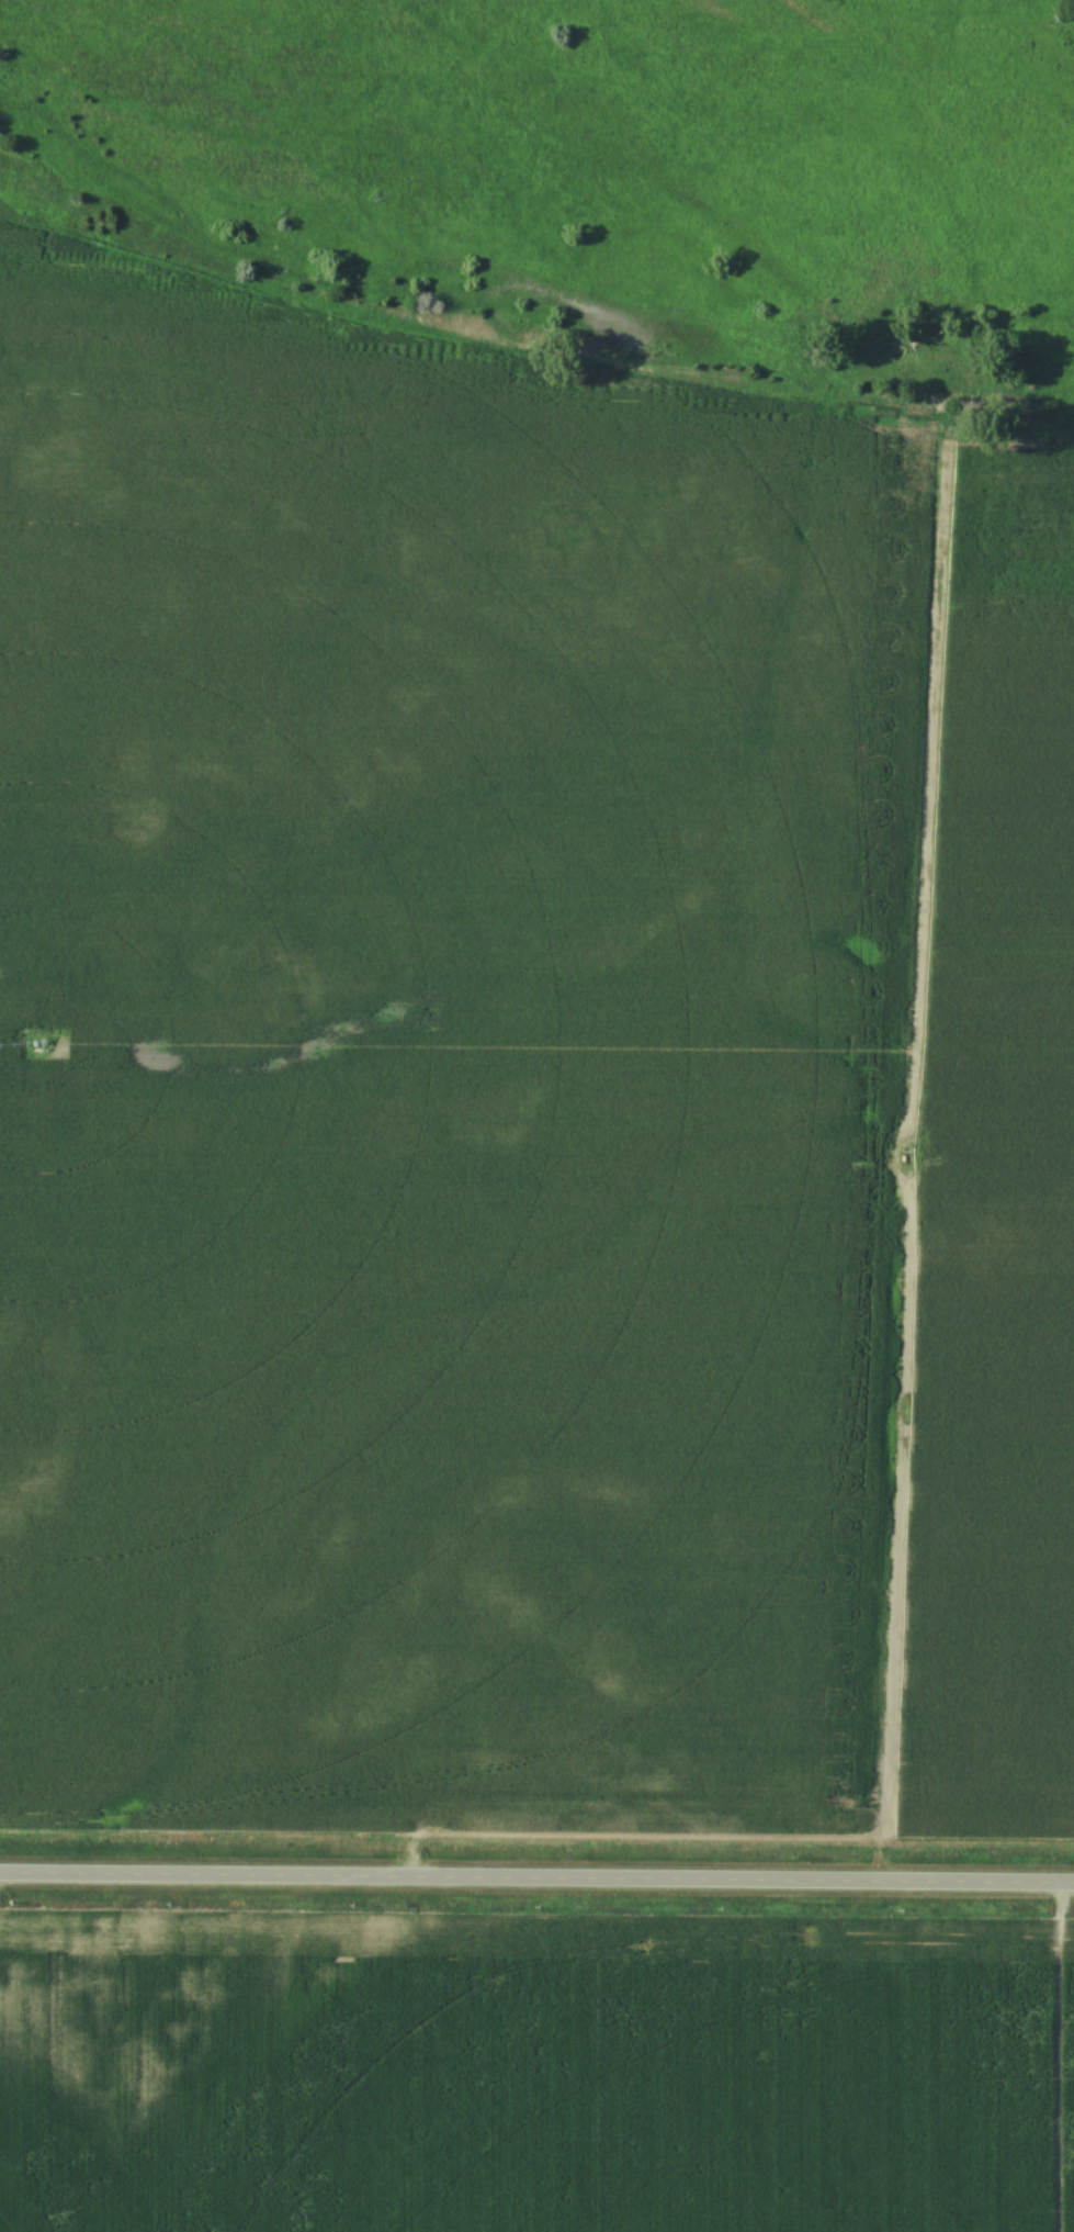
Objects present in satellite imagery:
road: (536, 1881)

